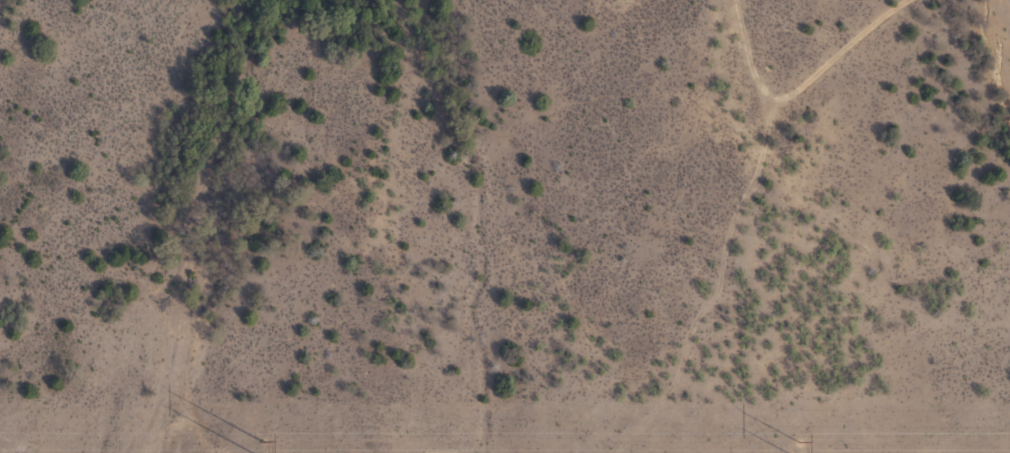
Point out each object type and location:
crop: (505, 226)
power tower: (261, 447)
power tower: (798, 448)

